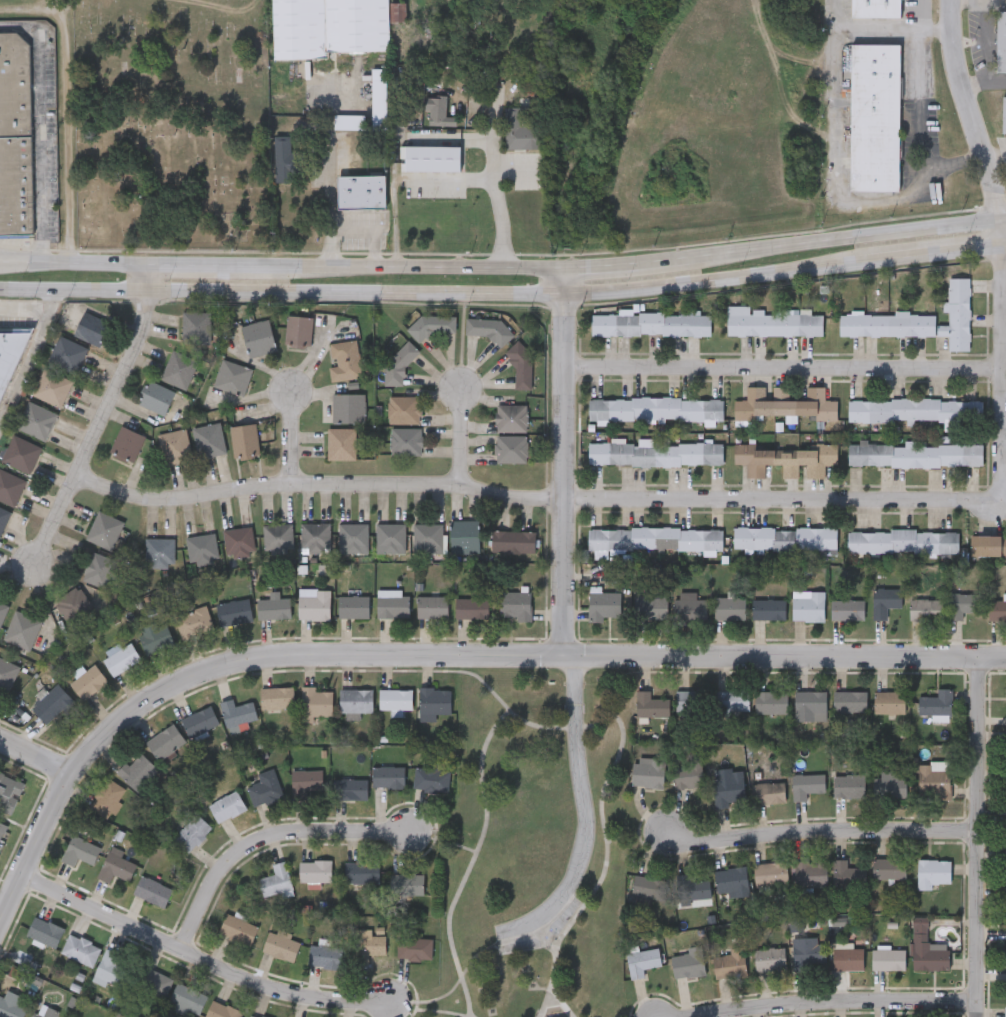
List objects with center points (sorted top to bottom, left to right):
building: (875, 9)
building: (329, 28)
road: (879, 29)
road: (936, 29)
building: (1001, 42)
road: (959, 78)
road: (920, 108)
building: (439, 112)
building: (1004, 115)
building: (874, 118)
park: (174, 123)
road: (40, 129)
building: (524, 129)
building: (15, 135)
building: (283, 148)
road: (838, 155)
building: (433, 158)
road: (328, 176)
road: (503, 184)
road: (991, 186)
building: (362, 192)
road: (1002, 218)
road: (999, 230)
road: (1002, 241)
road: (72, 263)
road: (573, 265)
road: (145, 276)
road: (72, 289)
road: (573, 292)
building: (917, 319)
building: (771, 322)
building: (650, 323)
building: (427, 325)
building: (195, 326)
building: (485, 327)
building: (90, 328)
building: (296, 330)
building: (256, 337)
road: (30, 353)
building: (65, 354)
building: (9, 358)
building: (343, 359)
building: (397, 364)
building: (177, 369)
road: (780, 369)
building: (230, 376)
building: (50, 386)
building: (155, 396)
building: (783, 403)
building: (346, 407)
building: (655, 407)
building: (914, 408)
building: (402, 409)
building: (509, 417)
building: (34, 420)
road: (93, 426)
road: (292, 434)
road: (459, 435)
building: (206, 439)
building: (243, 439)
building: (404, 440)
building: (340, 442)
building: (125, 444)
building: (172, 445)
building: (509, 448)
building: (19, 452)
building: (655, 452)
building: (915, 453)
road: (560, 458)
building: (784, 458)
building: (9, 486)
road: (657, 497)
building: (2, 515)
building: (102, 529)
building: (462, 535)
building: (276, 536)
building: (351, 536)
building: (388, 536)
building: (426, 536)
building: (784, 536)
building: (314, 537)
building: (655, 537)
building: (902, 540)
building: (236, 541)
building: (511, 541)
building: (989, 545)
building: (200, 548)
building: (158, 551)
building: (97, 569)
building: (884, 600)
building: (70, 603)
building: (962, 603)
building: (315, 604)
building: (516, 605)
building: (603, 605)
building: (807, 605)
building: (354, 606)
building: (648, 606)
building: (394, 607)
building: (472, 607)
building: (728, 607)
building: (274, 608)
building: (688, 608)
building: (767, 608)
building: (846, 608)
building: (924, 608)
building: (2, 609)
building: (996, 610)
building: (235, 611)
building: (195, 622)
building: (20, 629)
building: (157, 639)
road: (434, 650)
building: (122, 658)
building: (7, 673)
building: (89, 681)
building: (277, 697)
building: (395, 698)
building: (692, 699)
building: (316, 700)
building: (355, 700)
building: (732, 700)
building: (850, 700)
building: (771, 701)
building: (889, 701)
building: (433, 702)
building: (52, 703)
building: (810, 703)
building: (651, 704)
building: (237, 711)
building: (200, 720)
building: (165, 741)
road: (37, 760)
building: (137, 770)
building: (648, 771)
building: (688, 771)
building: (388, 775)
building: (431, 776)
building: (934, 780)
building: (305, 781)
building: (805, 784)
building: (890, 784)
building: (849, 785)
building: (265, 787)
building: (349, 788)
building: (728, 788)
building: (9, 790)
building: (768, 792)
building: (107, 797)
building: (226, 805)
road: (583, 806)
road: (493, 817)
building: (2, 827)
building: (192, 832)
road: (817, 832)
road: (266, 835)
road: (975, 835)
park: (537, 848)
building: (80, 850)
building: (1005, 864)
building: (115, 865)
building: (889, 868)
building: (314, 870)
building: (361, 871)
building: (932, 872)
building: (770, 873)
building: (810, 873)
building: (847, 873)
building: (276, 879)
building: (731, 881)
building: (406, 883)
building: (647, 888)
building: (690, 888)
building: (152, 890)
building: (237, 928)
building: (45, 931)
building: (281, 944)
building: (368, 944)
building: (414, 947)
building: (80, 948)
building: (808, 952)
building: (928, 952)
road: (206, 955)
building: (326, 955)
building: (769, 958)
building: (847, 958)
building: (888, 959)
building: (642, 960)
building: (688, 962)
building: (730, 963)
building: (113, 967)
building: (153, 982)
road: (562, 989)
building: (187, 998)
road: (824, 1002)
building: (11, 1007)
building: (221, 1010)
road: (475, 1011)
road: (485, 1011)
building: (1005, 1011)
building: (44, 1012)
building: (254, 1016)

